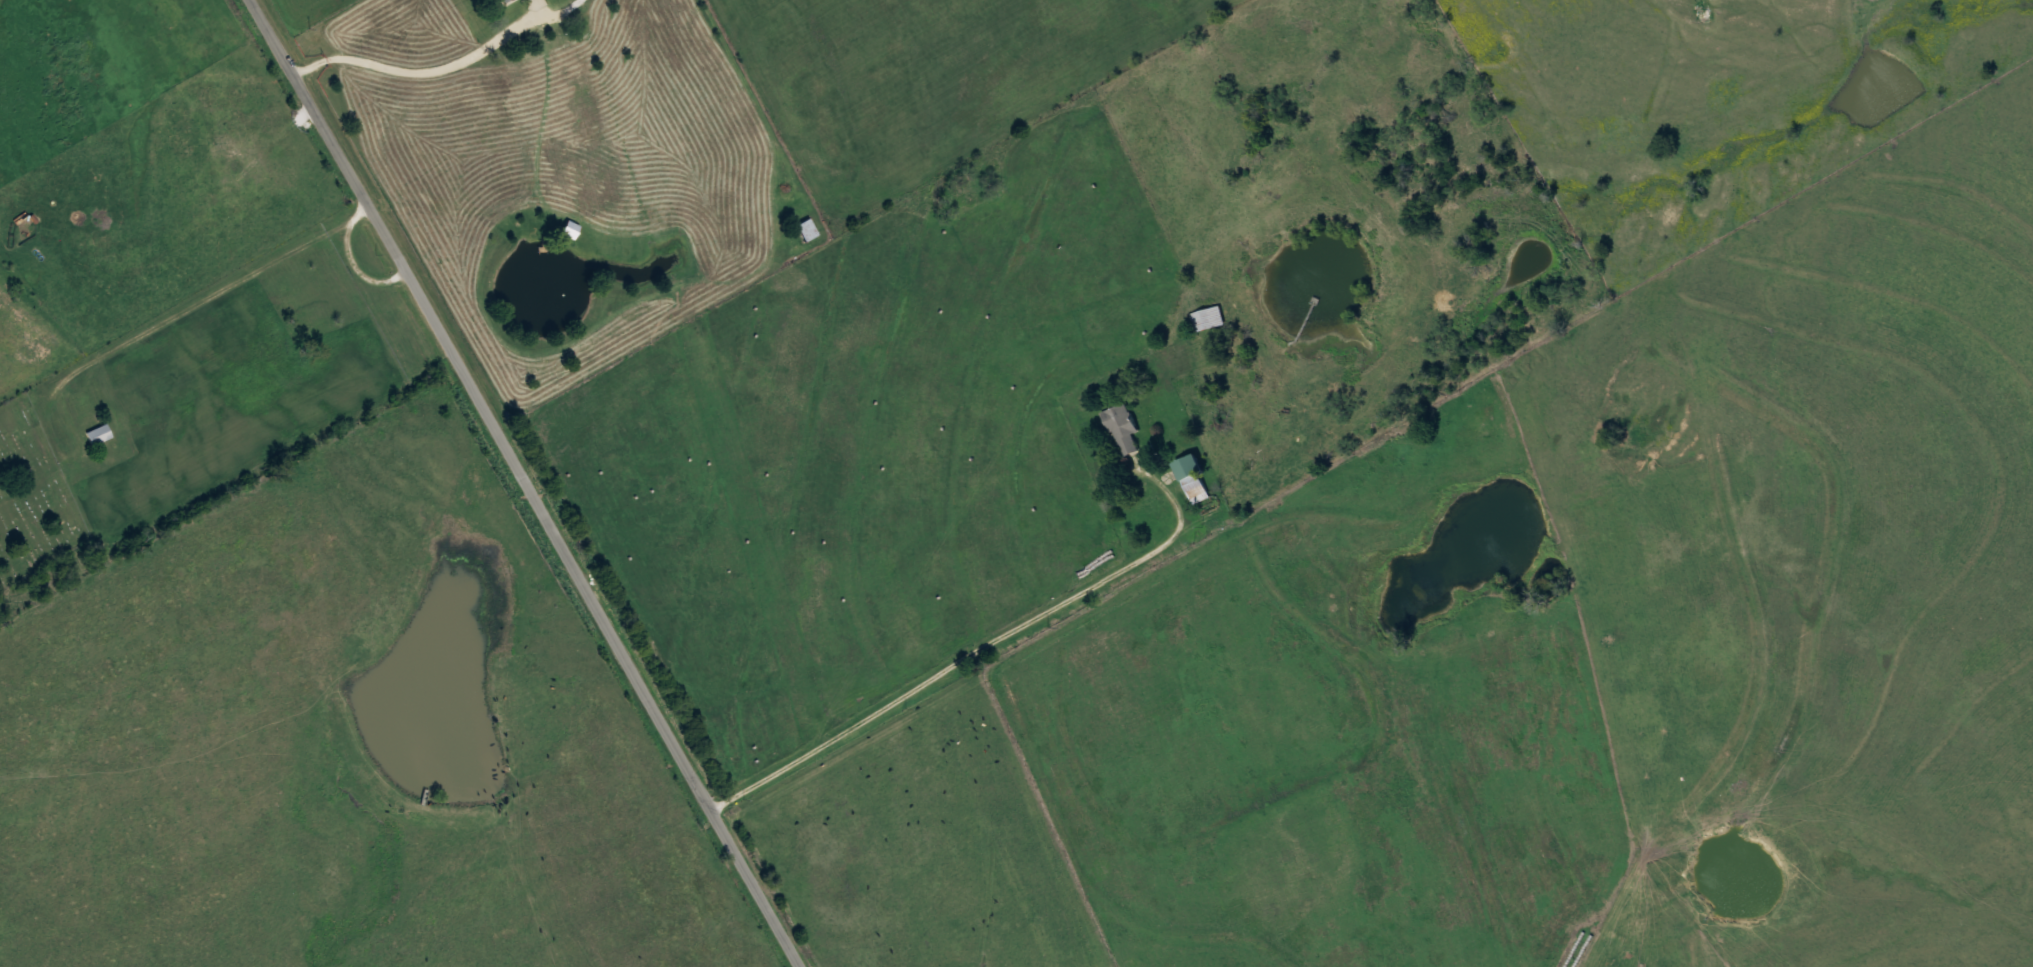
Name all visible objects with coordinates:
building: (502, 0)
building: (570, 228)
building: (807, 228)
road: (213, 299)
building: (1208, 318)
building: (1123, 429)
building: (99, 433)
building: (1193, 478)
road: (526, 482)
park: (32, 496)
road: (961, 668)

